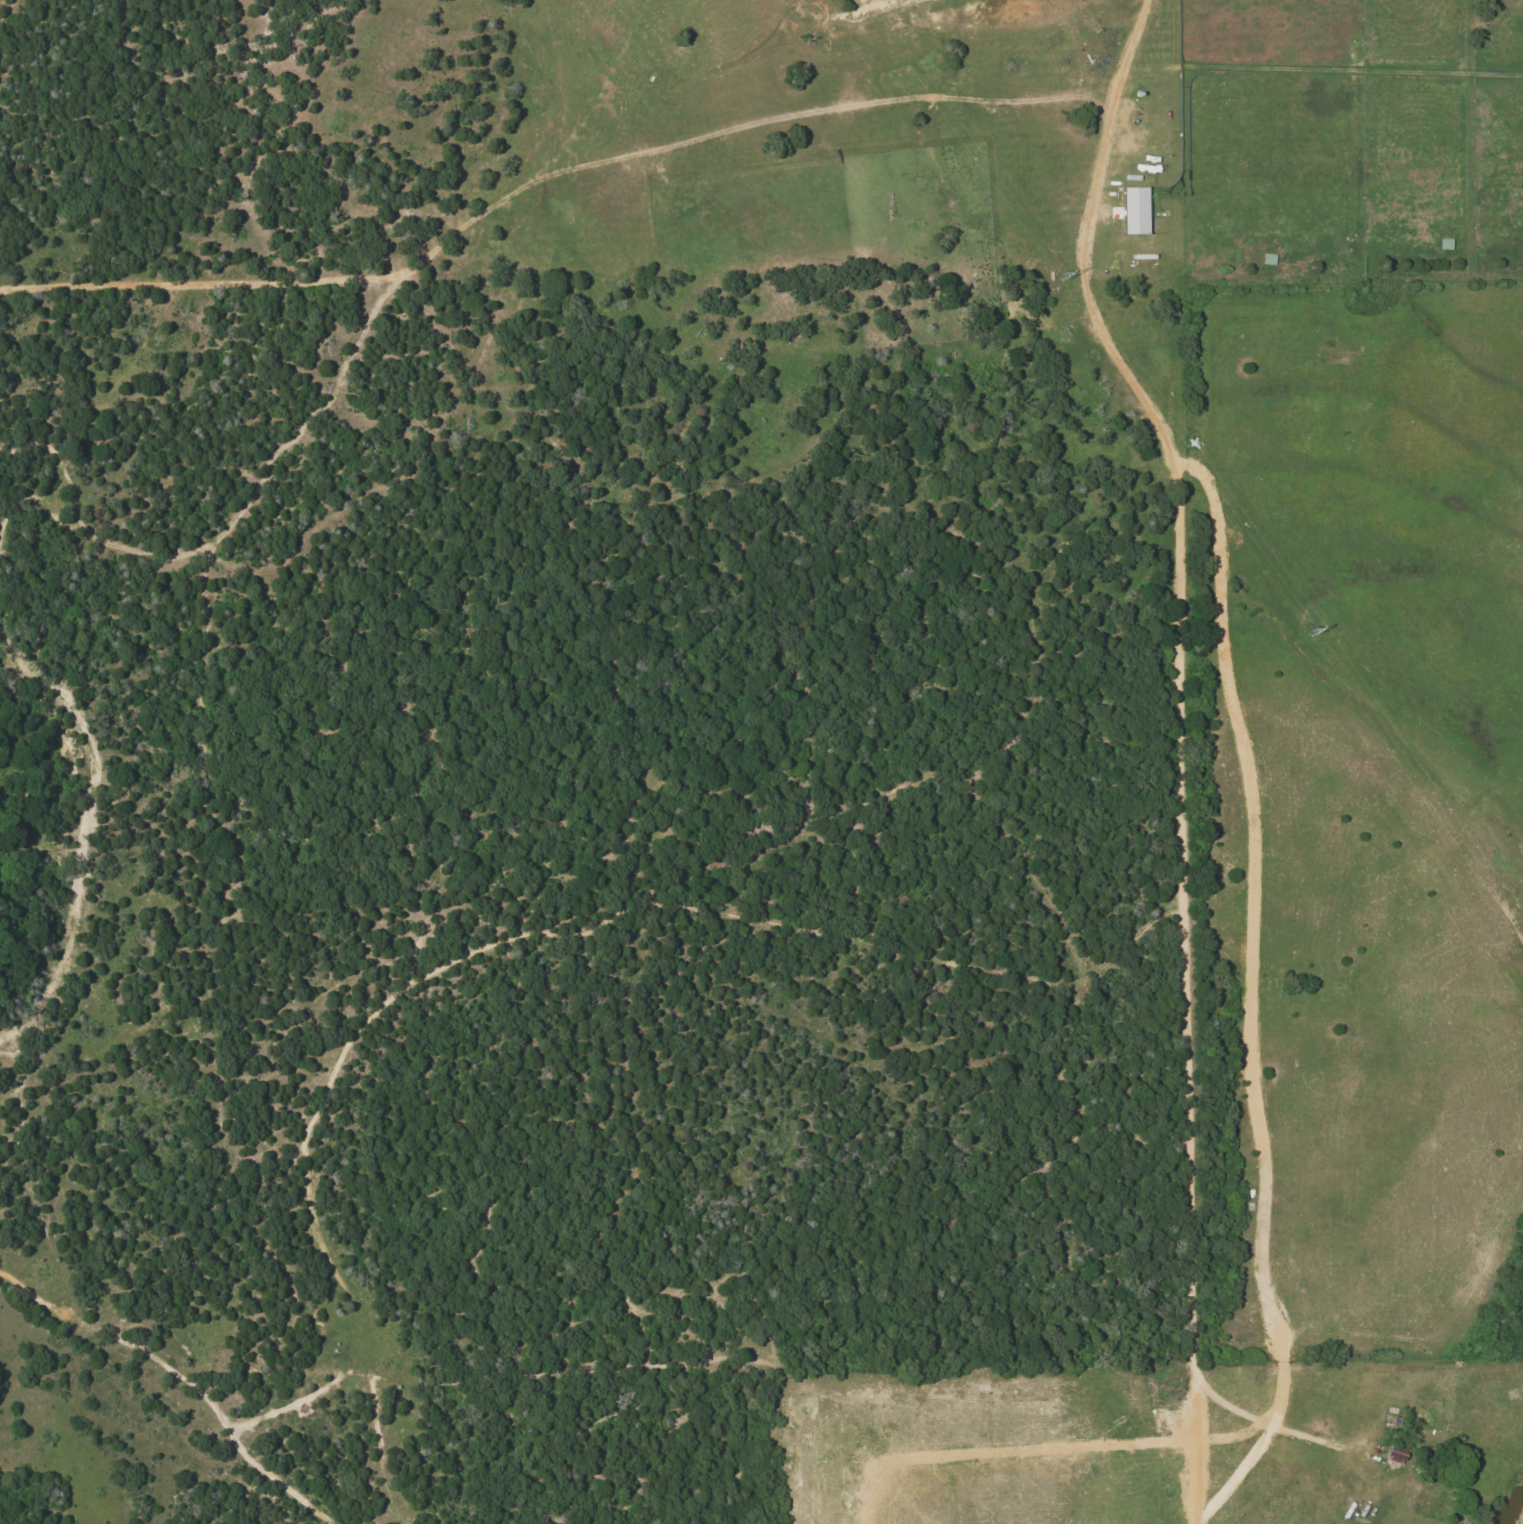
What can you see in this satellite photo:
building: (1135, 210)
power tower: (1065, 275)
power tower: (1309, 626)
road: (1184, 743)
road: (1270, 1421)
road: (1197, 1519)

